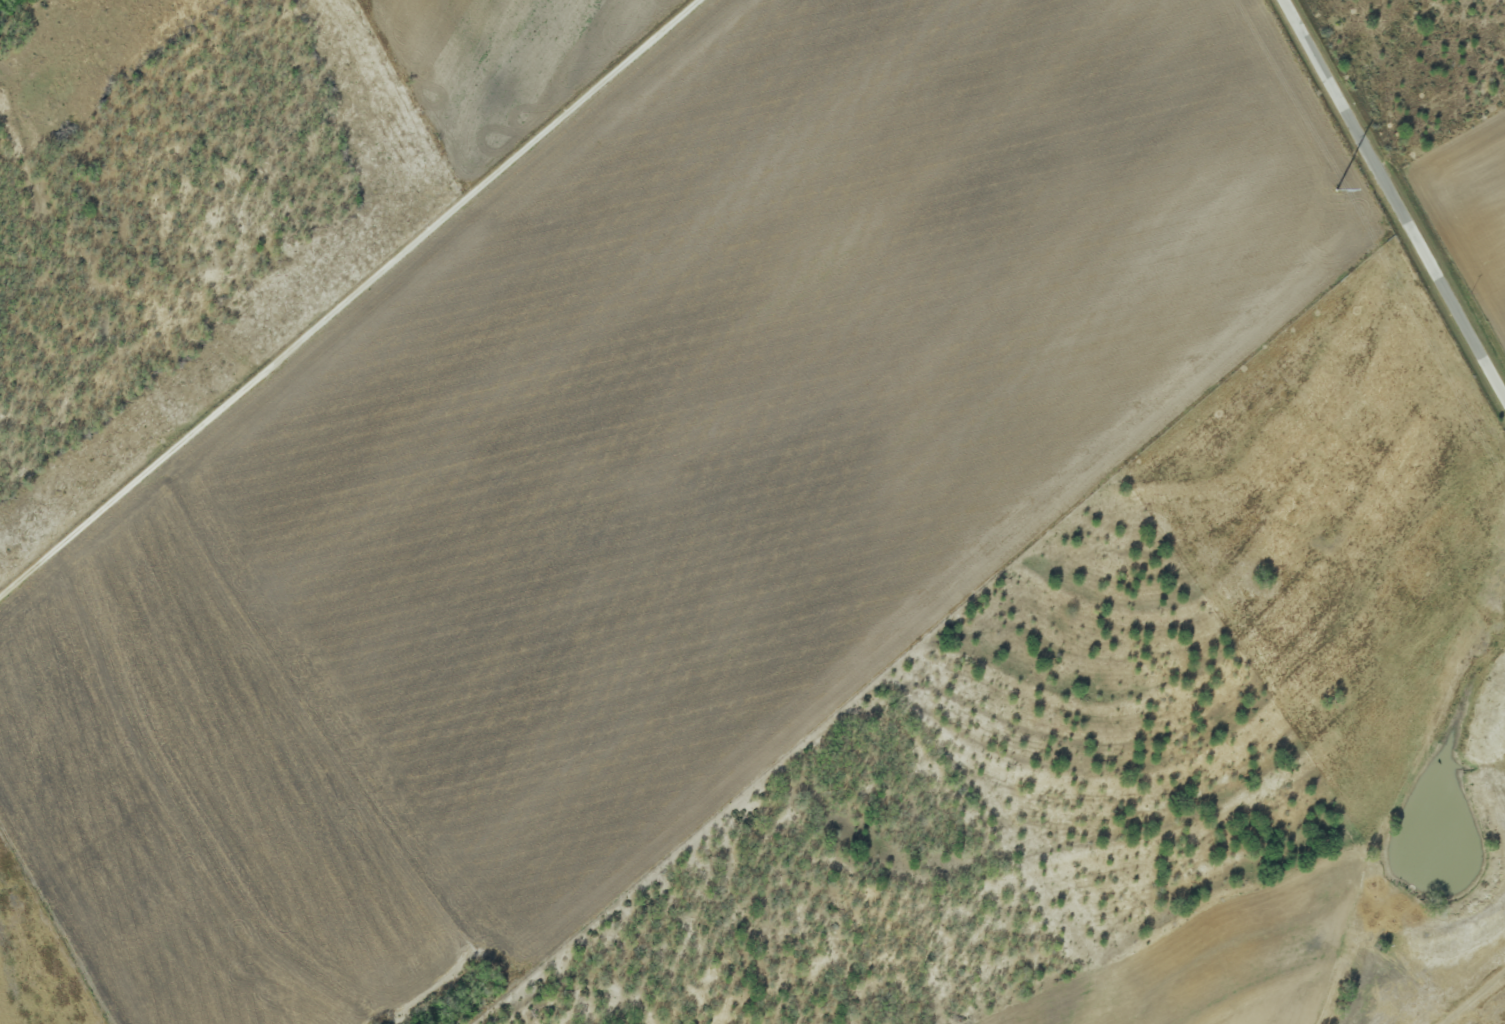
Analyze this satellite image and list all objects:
power tower: (1334, 191)
road: (1394, 200)
road: (348, 298)
road: (1472, 996)

